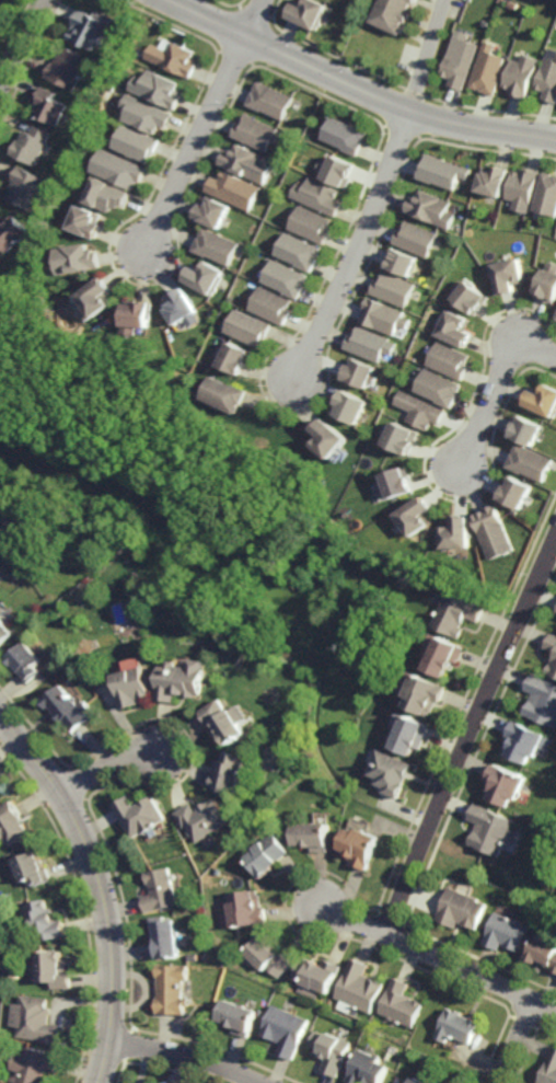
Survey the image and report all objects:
building: (1, 0)
building: (309, 12)
building: (394, 13)
building: (89, 27)
road: (22, 47)
building: (175, 57)
building: (461, 64)
building: (70, 67)
building: (489, 69)
building: (522, 74)
building: (548, 79)
road: (356, 85)
building: (159, 88)
building: (270, 99)
building: (50, 105)
building: (147, 115)
road: (202, 124)
building: (258, 133)
building: (345, 135)
building: (32, 145)
building: (138, 145)
building: (248, 162)
building: (120, 170)
building: (337, 170)
building: (442, 171)
building: (494, 180)
building: (26, 187)
building: (524, 188)
building: (235, 189)
road: (379, 194)
building: (109, 195)
building: (318, 196)
building: (547, 197)
building: (432, 209)
building: (213, 211)
building: (85, 221)
building: (312, 226)
building: (11, 233)
building: (417, 240)
building: (217, 246)
building: (300, 252)
building: (79, 258)
building: (403, 264)
building: (508, 276)
building: (206, 277)
building: (288, 278)
building: (548, 283)
building: (395, 289)
building: (94, 298)
building: (471, 299)
building: (273, 307)
building: (181, 309)
building: (383, 316)
building: (137, 318)
building: (252, 329)
building: (455, 330)
building: (371, 344)
building: (238, 358)
building: (451, 360)
building: (361, 375)
road: (495, 382)
building: (439, 389)
building: (179, 393)
building: (228, 395)
building: (543, 400)
building: (354, 407)
building: (421, 411)
building: (526, 433)
building: (403, 439)
building: (331, 440)
building: (531, 463)
building: (398, 485)
building: (516, 494)
building: (415, 519)
building: (494, 534)
building: (455, 535)
building: (459, 617)
building: (3, 633)
building: (552, 646)
building: (445, 658)
building: (24, 666)
building: (554, 667)
building: (184, 678)
building: (132, 688)
building: (427, 696)
building: (544, 696)
building: (68, 705)
building: (224, 718)
building: (413, 733)
road: (472, 735)
building: (532, 738)
road: (116, 762)
building: (229, 771)
building: (394, 772)
building: (511, 782)
building: (2, 785)
building: (139, 814)
building: (201, 818)
building: (12, 823)
building: (497, 828)
building: (312, 833)
building: (360, 844)
building: (268, 853)
building: (34, 866)
road: (100, 885)
building: (160, 889)
building: (244, 909)
building: (465, 909)
building: (47, 919)
building: (510, 932)
building: (164, 936)
building: (545, 949)
building: (195, 955)
building: (267, 955)
road: (440, 956)
building: (555, 966)
building: (56, 968)
building: (314, 976)
building: (358, 986)
building: (172, 989)
building: (231, 993)
building: (401, 1003)
building: (238, 1016)
building: (38, 1019)
building: (461, 1026)
building: (286, 1029)
road: (518, 1041)
building: (331, 1050)
road: (186, 1055)
building: (35, 1065)
building: (368, 1069)
building: (551, 1072)
building: (418, 1081)
building: (430, 1082)

